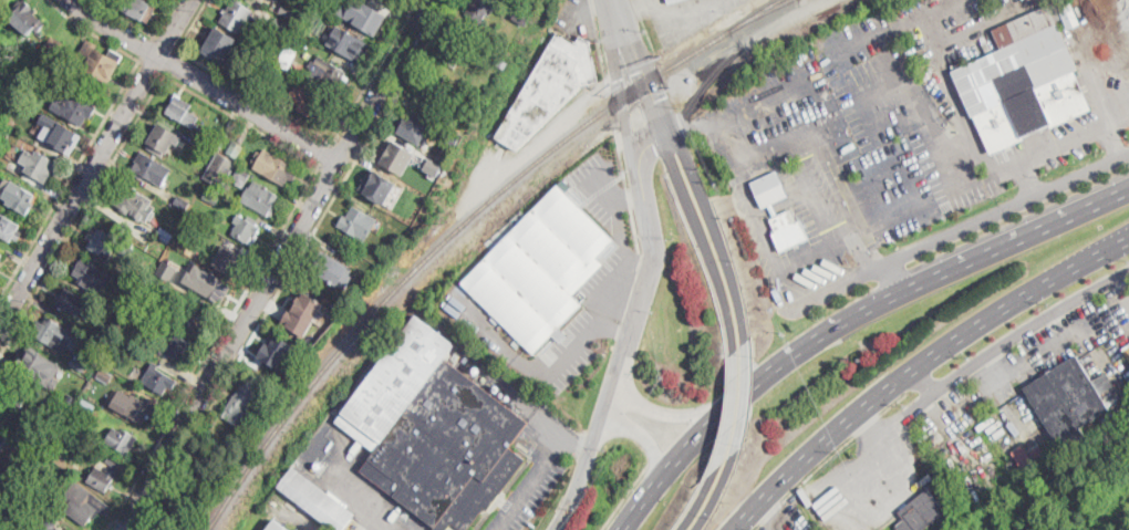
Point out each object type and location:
building: (389, 0)
building: (672, 1)
building: (925, 1)
building: (530, 3)
building: (137, 8)
building: (478, 10)
building: (288, 11)
railway: (760, 11)
railway: (766, 11)
building: (362, 14)
building: (524, 15)
road: (583, 15)
building: (238, 17)
building: (25, 19)
building: (280, 24)
road: (143, 30)
building: (305, 33)
road: (625, 37)
building: (349, 42)
building: (54, 44)
road: (166, 44)
building: (299, 44)
building: (218, 46)
road: (600, 46)
road: (147, 49)
building: (454, 53)
building: (288, 58)
building: (45, 61)
building: (498, 61)
building: (101, 63)
road: (172, 63)
building: (266, 65)
road: (153, 67)
road: (376, 71)
building: (328, 73)
building: (1023, 79)
road: (230, 81)
road: (205, 82)
building: (550, 89)
building: (431, 93)
road: (654, 98)
building: (310, 103)
road: (623, 105)
building: (74, 108)
building: (179, 110)
road: (612, 111)
parking lot: (909, 113)
road: (691, 123)
building: (415, 125)
parking lot: (1070, 128)
road: (96, 135)
building: (62, 137)
building: (452, 137)
road: (776, 137)
building: (221, 138)
building: (163, 139)
road: (1063, 141)
road: (651, 143)
road: (282, 144)
building: (236, 149)
road: (346, 149)
road: (327, 154)
building: (397, 157)
road: (845, 160)
building: (39, 165)
road: (95, 165)
building: (276, 166)
building: (433, 166)
building: (152, 168)
building: (220, 170)
road: (333, 173)
building: (242, 177)
building: (379, 186)
road: (626, 189)
building: (17, 197)
building: (260, 197)
road: (629, 197)
building: (211, 198)
building: (133, 202)
building: (183, 202)
building: (788, 214)
building: (358, 221)
building: (9, 229)
building: (247, 229)
road: (864, 230)
road: (716, 231)
parking lot: (820, 232)
road: (956, 232)
building: (165, 235)
road: (702, 239)
road: (1023, 239)
railway: (442, 242)
building: (106, 243)
road: (771, 249)
road: (863, 252)
building: (1, 256)
building: (228, 260)
road: (280, 264)
road: (296, 264)
building: (327, 266)
building: (540, 268)
building: (91, 276)
building: (169, 276)
building: (137, 277)
road: (895, 278)
building: (208, 283)
road: (629, 297)
building: (73, 302)
building: (118, 305)
building: (303, 313)
building: (194, 318)
building: (56, 335)
building: (103, 339)
road: (587, 339)
road: (807, 347)
building: (177, 349)
road: (624, 349)
road: (994, 349)
building: (121, 350)
building: (1127, 350)
building: (273, 358)
building: (79, 365)
road: (918, 365)
building: (37, 366)
building: (286, 371)
building: (105, 376)
building: (158, 380)
road: (922, 381)
building: (13, 393)
building: (66, 399)
building: (244, 401)
building: (1066, 402)
building: (131, 405)
building: (87, 406)
road: (539, 412)
road: (667, 415)
road: (744, 422)
road: (729, 424)
road: (869, 424)
building: (434, 432)
road: (641, 437)
building: (2, 440)
building: (122, 441)
building: (1024, 455)
building: (1037, 455)
building: (106, 474)
road: (664, 475)
road: (529, 480)
building: (22, 481)
road: (355, 490)
parking lot: (527, 492)
building: (182, 498)
road: (626, 498)
building: (315, 500)
building: (81, 503)
road: (694, 510)
building: (921, 512)
road: (709, 513)
road: (296, 517)
building: (43, 523)
building: (276, 527)

